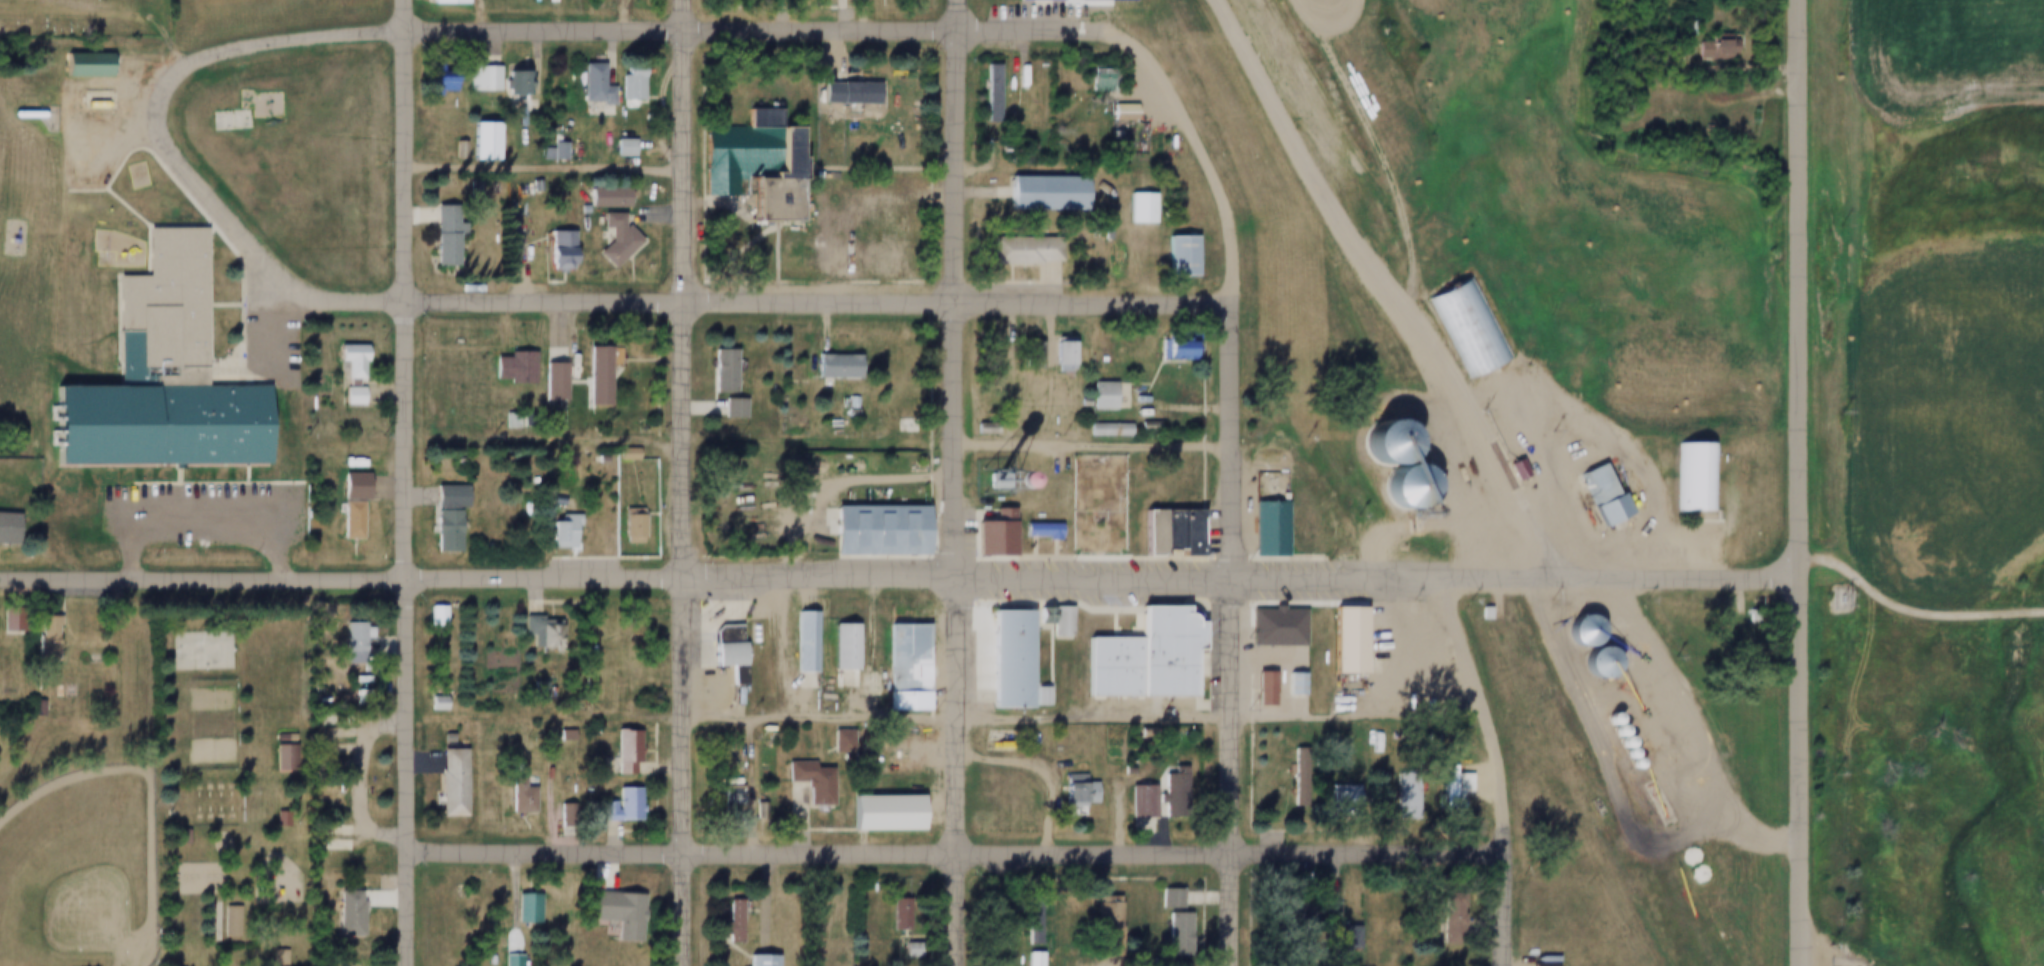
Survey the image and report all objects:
building: (1031, 0)
building: (445, 2)
road: (1296, 3)
road: (791, 12)
park: (82, 18)
road: (161, 24)
road: (750, 25)
road: (295, 39)
building: (1717, 46)
building: (78, 65)
building: (478, 78)
building: (433, 81)
building: (1088, 81)
building: (625, 82)
building: (509, 85)
building: (588, 85)
building: (998, 89)
building: (840, 95)
building: (983, 95)
building: (1114, 113)
storage tank: (19, 115)
park: (225, 119)
road: (1198, 136)
building: (476, 143)
building: (619, 147)
road: (1370, 150)
building: (549, 152)
building: (754, 163)
road: (184, 164)
chimney: (751, 178)
building: (1035, 195)
building: (601, 198)
building: (1130, 210)
building: (438, 238)
building: (610, 240)
building: (506, 247)
building: (553, 250)
building: (1013, 252)
building: (1170, 258)
road: (1372, 284)
road: (1804, 288)
road: (822, 294)
road: (327, 301)
building: (1463, 326)
road: (554, 327)
building: (1165, 351)
building: (1052, 356)
building: (1026, 357)
building: (829, 367)
building: (506, 370)
building: (717, 371)
building: (346, 372)
building: (555, 372)
building: (591, 377)
building: (151, 380)
building: (544, 383)
building: (1092, 396)
building: (847, 402)
building: (728, 408)
building: (503, 422)
building: (1136, 427)
building: (1100, 430)
road: (1602, 436)
road: (1096, 442)
building: (1380, 442)
silo: (1380, 442)
building: (616, 454)
building: (339, 461)
building: (1511, 470)
building: (1688, 477)
road: (836, 480)
water tower: (985, 481)
road: (684, 482)
road: (956, 482)
road: (407, 483)
building: (347, 486)
building: (1402, 487)
silo: (1402, 487)
building: (707, 492)
building: (444, 496)
building: (1595, 498)
building: (1091, 503)
power substation: (1091, 503)
building: (344, 521)
road: (204, 527)
building: (625, 527)
building: (5, 529)
building: (1035, 531)
building: (1261, 531)
building: (441, 532)
building: (870, 532)
building: (1161, 532)
building: (555, 535)
building: (984, 536)
building: (1143, 536)
building: (1179, 536)
road: (1106, 572)
road: (203, 578)
power substation: (1833, 598)
road: (1917, 607)
building: (1478, 614)
building: (430, 616)
building: (1036, 616)
building: (5, 619)
building: (1053, 624)
road: (1235, 625)
building: (1578, 632)
silo: (1578, 632)
building: (542, 635)
building: (39, 637)
building: (348, 637)
building: (797, 643)
building: (1339, 643)
park: (197, 649)
building: (836, 649)
building: (722, 653)
building: (1136, 659)
building: (1001, 662)
building: (1593, 662)
silo: (1593, 662)
building: (897, 670)
building: (1288, 685)
building: (1257, 690)
building: (534, 691)
building: (1032, 698)
building: (431, 703)
building: (1421, 704)
building: (30, 709)
road: (1487, 709)
road: (948, 716)
building: (1604, 719)
silo: (1604, 719)
park: (205, 724)
road: (1695, 729)
building: (1610, 731)
silo: (1610, 731)
building: (561, 734)
building: (842, 739)
building: (1616, 743)
silo: (1616, 743)
building: (621, 747)
building: (278, 750)
building: (1622, 753)
silo: (1622, 753)
building: (286, 755)
building: (1626, 763)
silo: (1626, 763)
road: (1803, 771)
road: (360, 778)
park: (146, 779)
building: (445, 783)
building: (802, 783)
building: (1164, 785)
building: (1447, 787)
building: (722, 795)
building: (1070, 795)
building: (514, 797)
building: (1402, 799)
park: (208, 801)
building: (1337, 802)
building: (1133, 803)
building: (617, 806)
building: (754, 810)
building: (876, 815)
building: (174, 838)
road: (958, 852)
park: (75, 869)
building: (1164, 899)
road: (1511, 906)
building: (522, 908)
building: (892, 909)
building: (613, 913)
building: (1296, 913)
building: (341, 914)
building: (1026, 916)
building: (1101, 916)
building: (1451, 918)
building: (207, 920)
building: (729, 921)
building: (224, 923)
building: (1172, 935)
building: (1334, 937)
building: (280, 956)
building: (273, 958)
building: (1028, 959)
building: (507, 960)
building: (755, 961)
building: (1535, 965)

